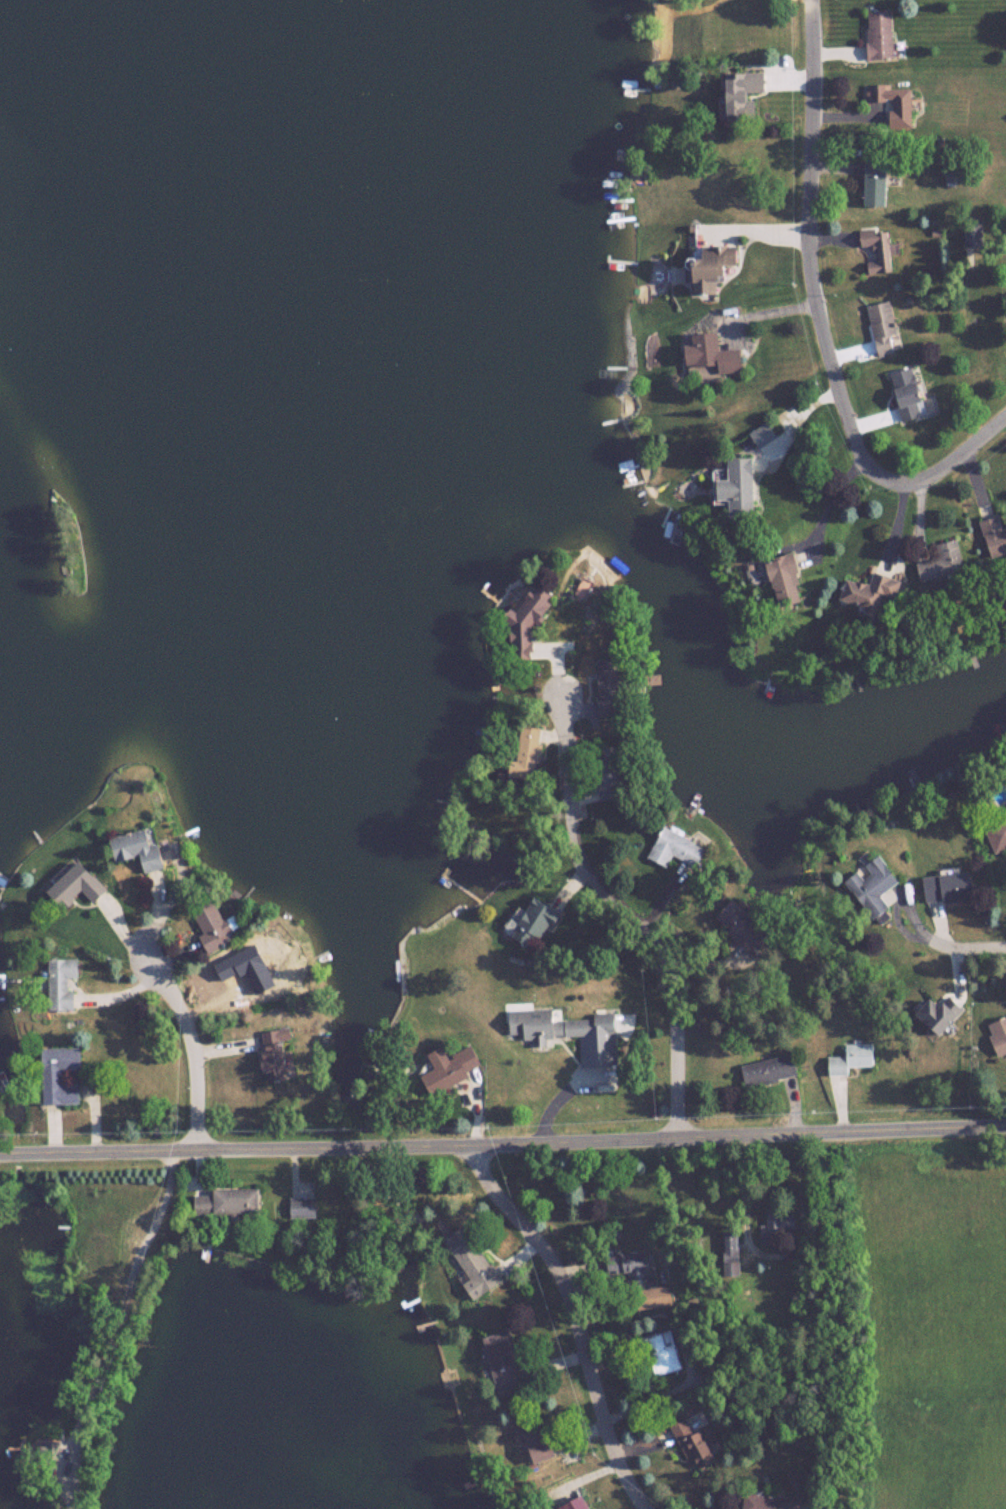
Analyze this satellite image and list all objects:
building: (881, 34)
building: (743, 92)
building: (894, 102)
building: (957, 173)
building: (877, 184)
building: (973, 234)
building: (878, 248)
building: (715, 267)
road: (762, 316)
road: (818, 318)
building: (883, 328)
building: (712, 356)
building: (909, 394)
road: (792, 419)
building: (762, 434)
building: (738, 487)
road: (830, 498)
building: (996, 536)
building: (946, 562)
building: (787, 579)
building: (872, 591)
building: (534, 617)
building: (617, 688)
building: (532, 752)
building: (613, 773)
building: (142, 849)
building: (681, 849)
building: (80, 886)
building: (875, 886)
building: (950, 888)
road: (612, 899)
building: (537, 922)
building: (216, 926)
building: (746, 927)
road: (953, 948)
building: (63, 984)
building: (943, 1014)
building: (571, 1033)
road: (192, 1045)
building: (278, 1054)
building: (854, 1059)
building: (460, 1066)
building: (772, 1070)
building: (61, 1074)
road: (599, 1141)
road: (96, 1150)
road: (294, 1167)
road: (201, 1168)
building: (225, 1203)
building: (302, 1207)
building: (781, 1224)
road: (520, 1253)
building: (734, 1254)
building: (477, 1269)
road: (586, 1270)
building: (640, 1270)
road: (575, 1319)
road: (113, 1327)
road: (606, 1352)
building: (661, 1353)
building: (503, 1359)
road: (553, 1361)
building: (536, 1443)
building: (695, 1443)
road: (633, 1445)
building: (45, 1447)
road: (581, 1475)
building: (769, 1502)
building: (576, 1504)

